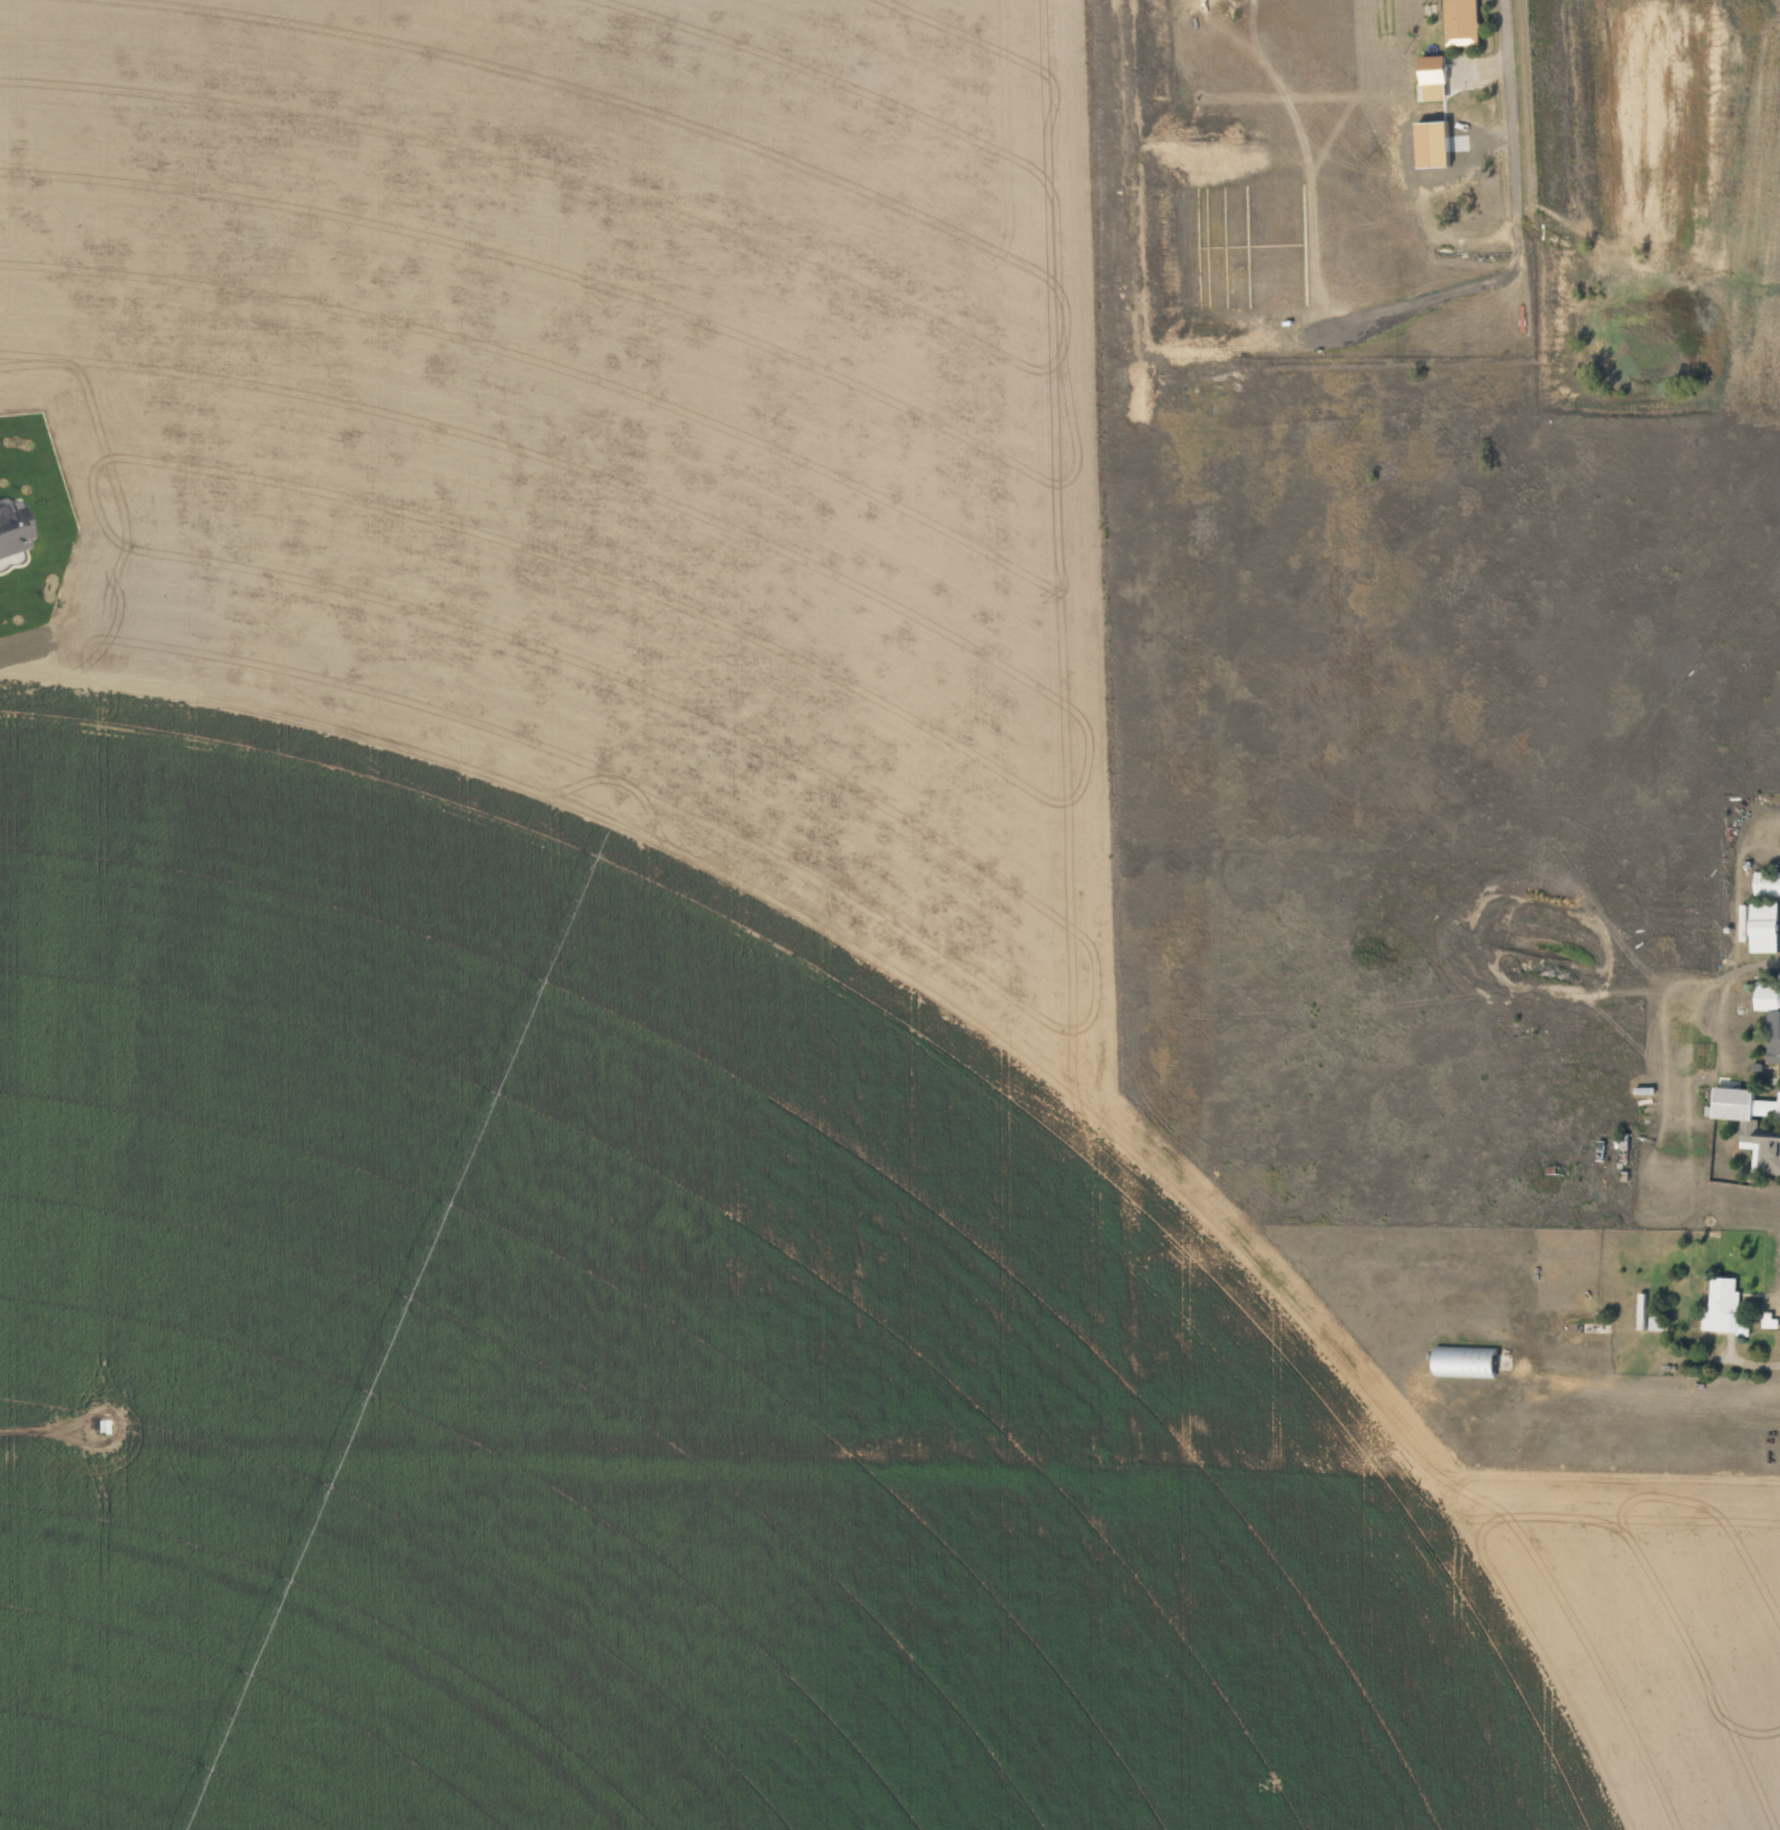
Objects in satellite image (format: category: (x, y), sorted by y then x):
building: (1464, 22)
building: (1435, 76)
building: (1439, 142)
building: (12, 527)
building: (1768, 883)
building: (1766, 926)
building: (1770, 1012)
building: (1752, 1123)
building: (1725, 1306)

